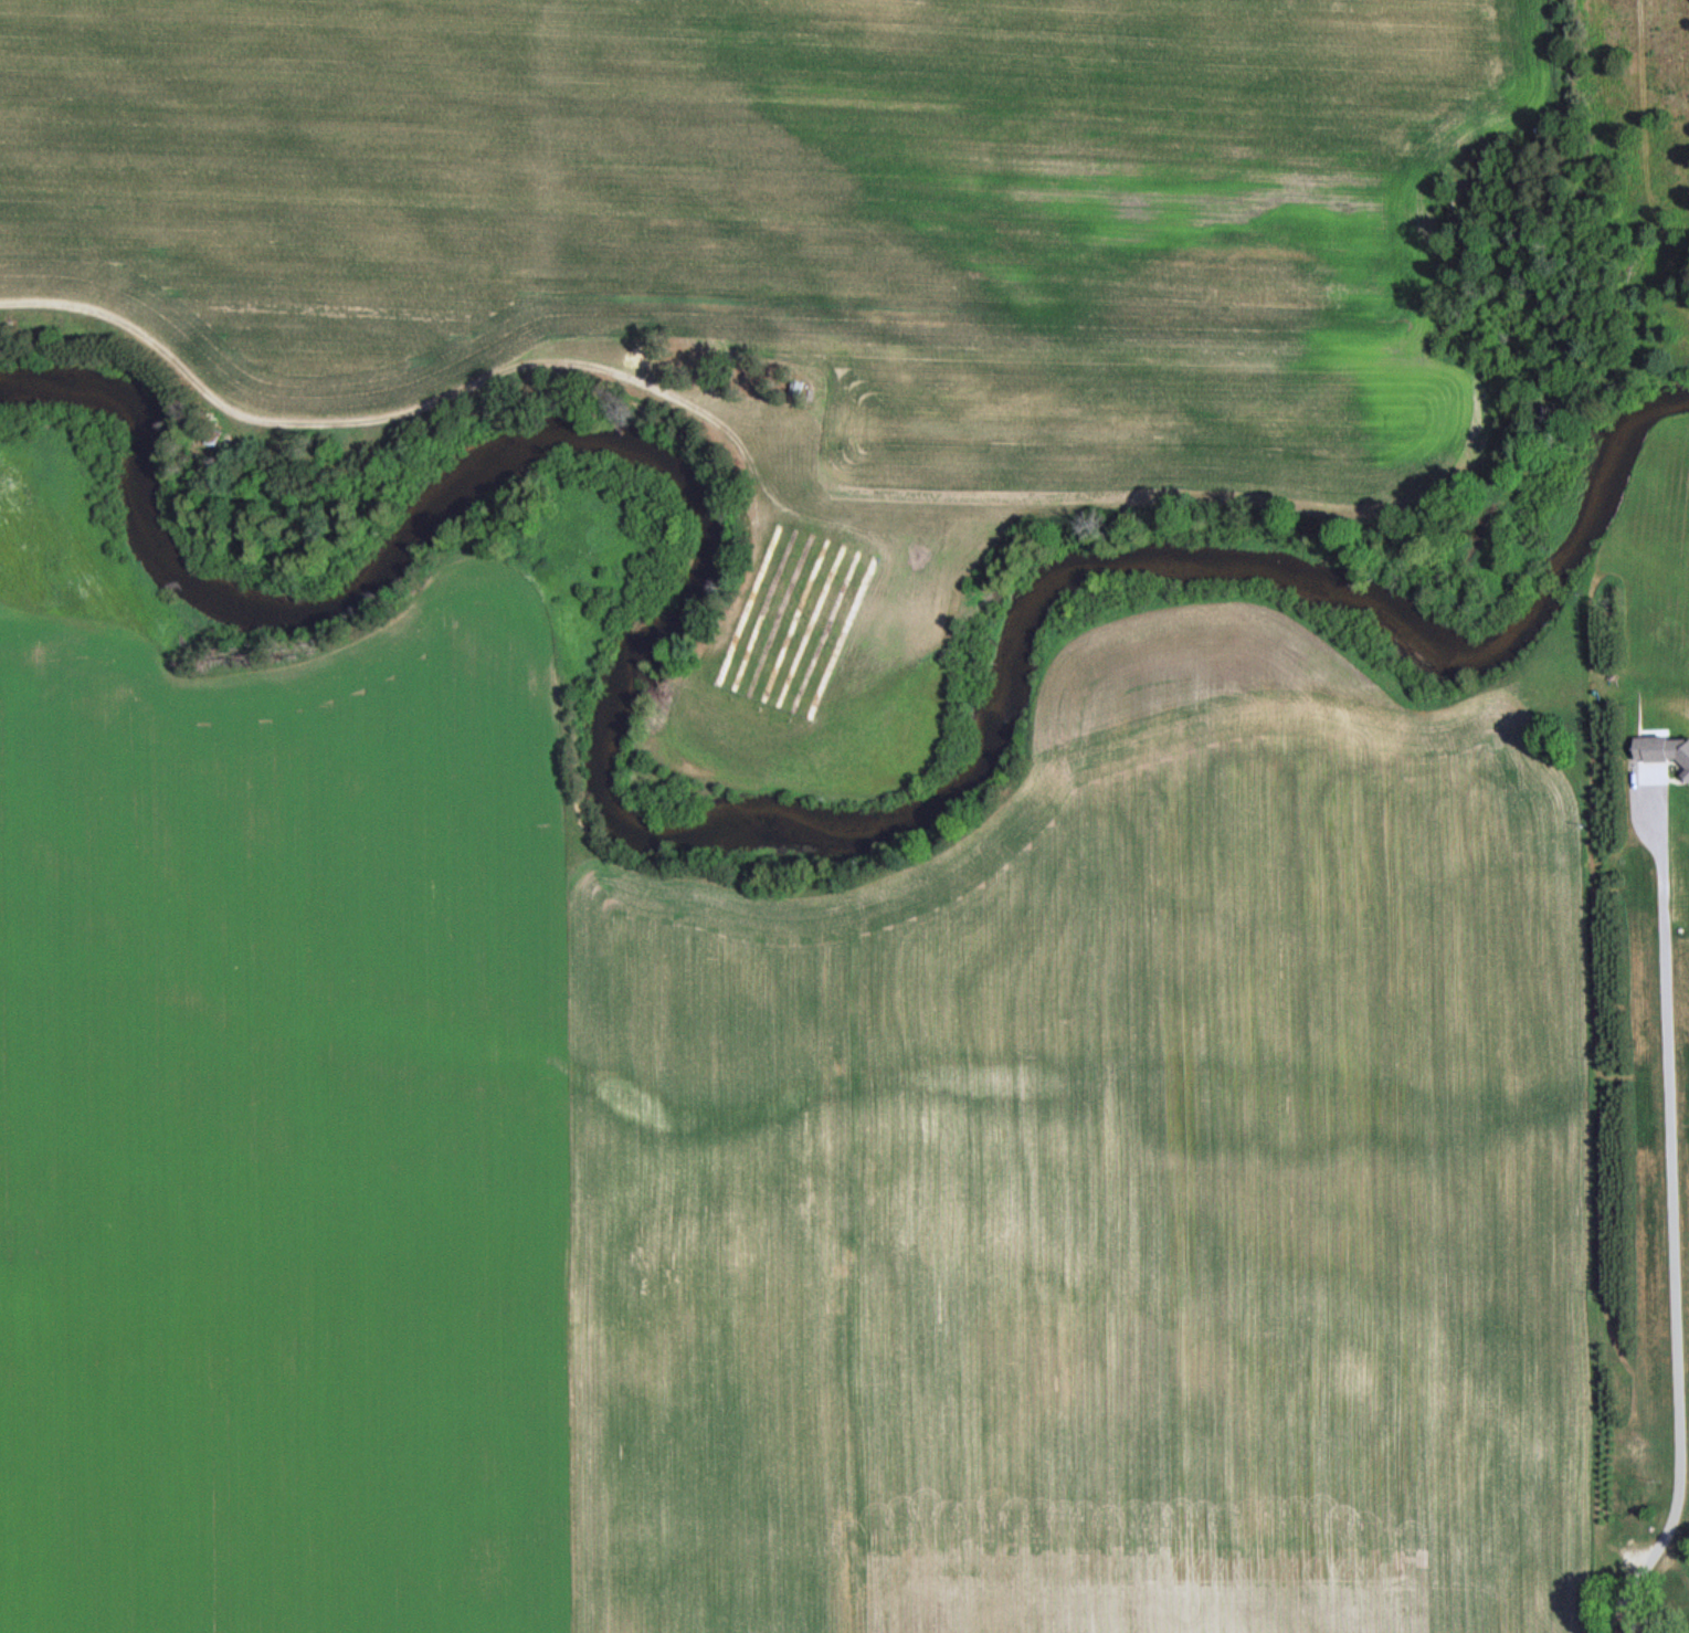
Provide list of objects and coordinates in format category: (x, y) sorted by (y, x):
road: (245, 413)
building: (1662, 751)
river: (668, 833)
building: (1635, 1503)
building: (1678, 1602)

